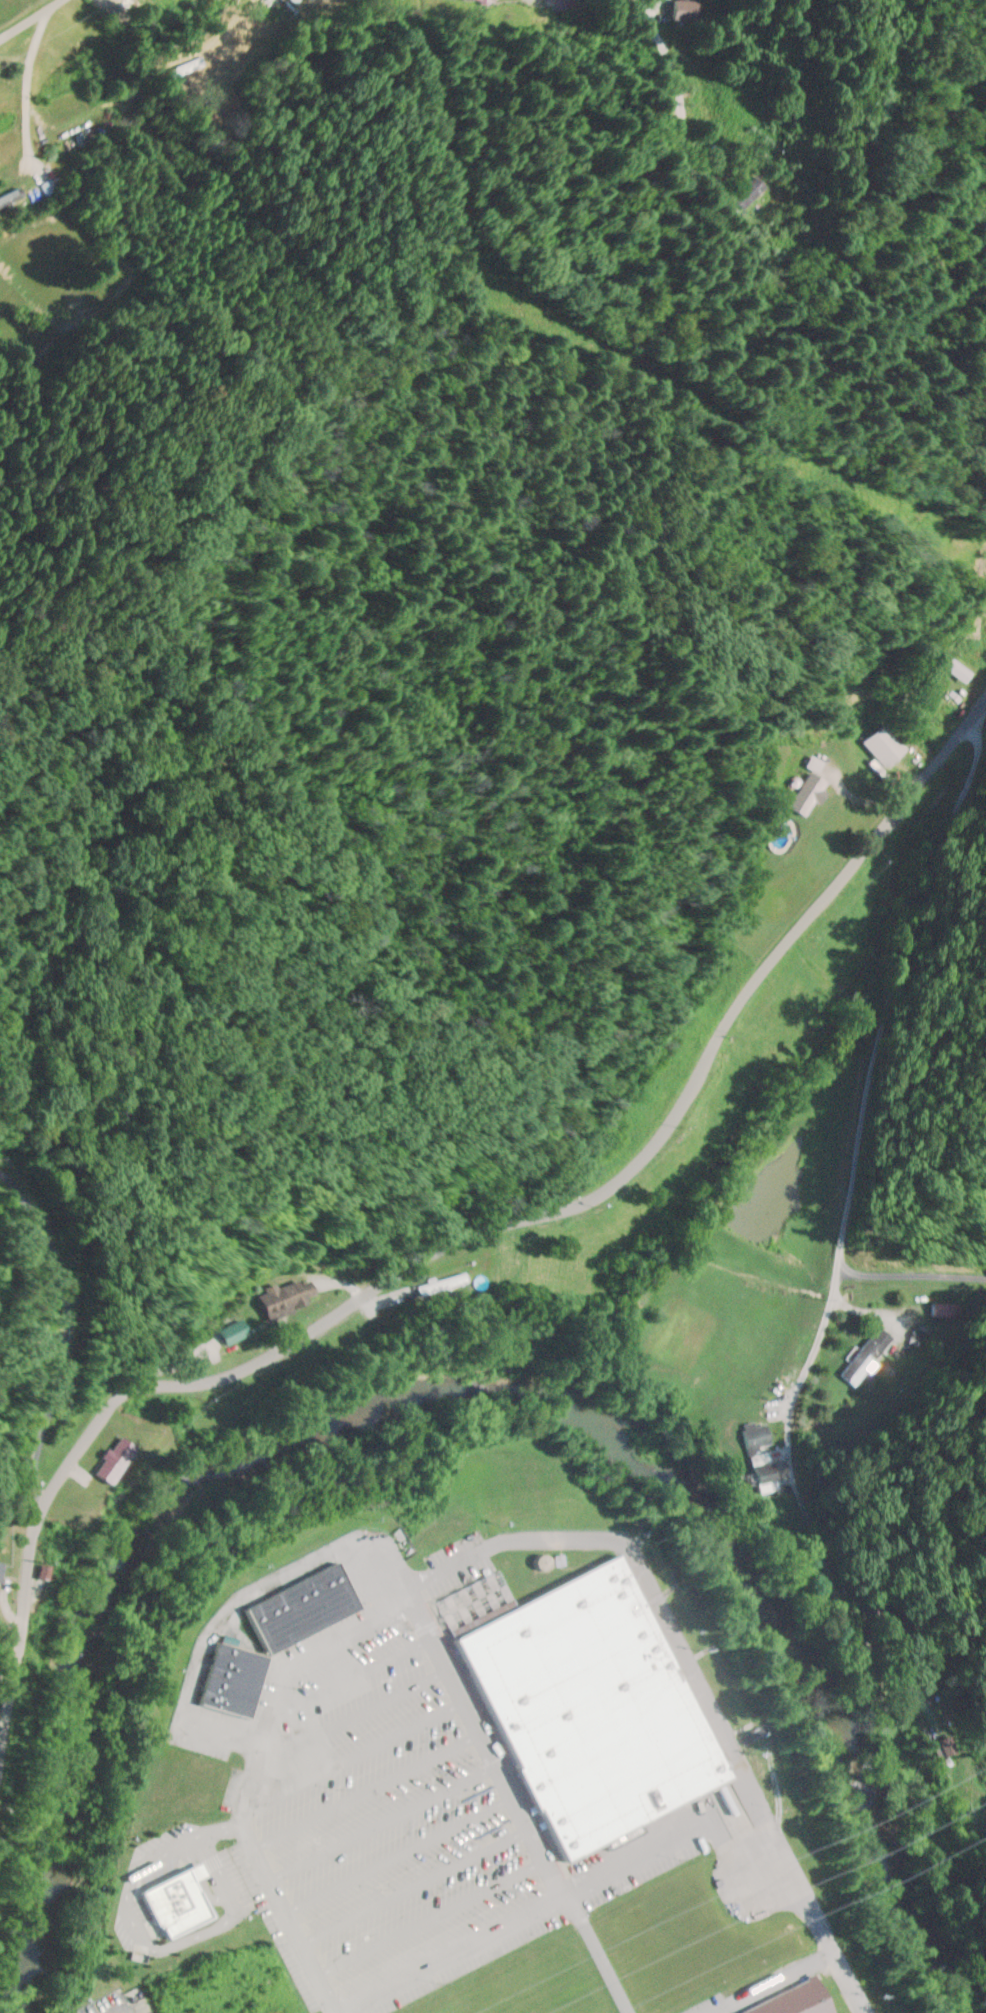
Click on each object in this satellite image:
building: (565, 4)
road: (13, 8)
building: (747, 191)
building: (11, 196)
road: (124, 314)
road: (164, 482)
road: (978, 737)
building: (880, 744)
building: (809, 793)
road: (840, 1230)
road: (475, 1231)
building: (291, 1297)
building: (237, 1332)
building: (864, 1356)
river: (465, 1384)
building: (753, 1437)
building: (118, 1459)
building: (759, 1472)
road: (236, 1602)
building: (280, 1634)
road: (352, 1675)
road: (692, 1675)
building: (586, 1706)
road: (353, 1715)
road: (355, 1756)
road: (253, 1774)
road: (368, 1785)
road: (514, 1803)
road: (384, 1819)
parking lot: (394, 1824)
road: (400, 1852)
road: (740, 1857)
road: (415, 1883)
building: (179, 1901)
road: (521, 1915)
road: (433, 1919)
building: (792, 2000)

